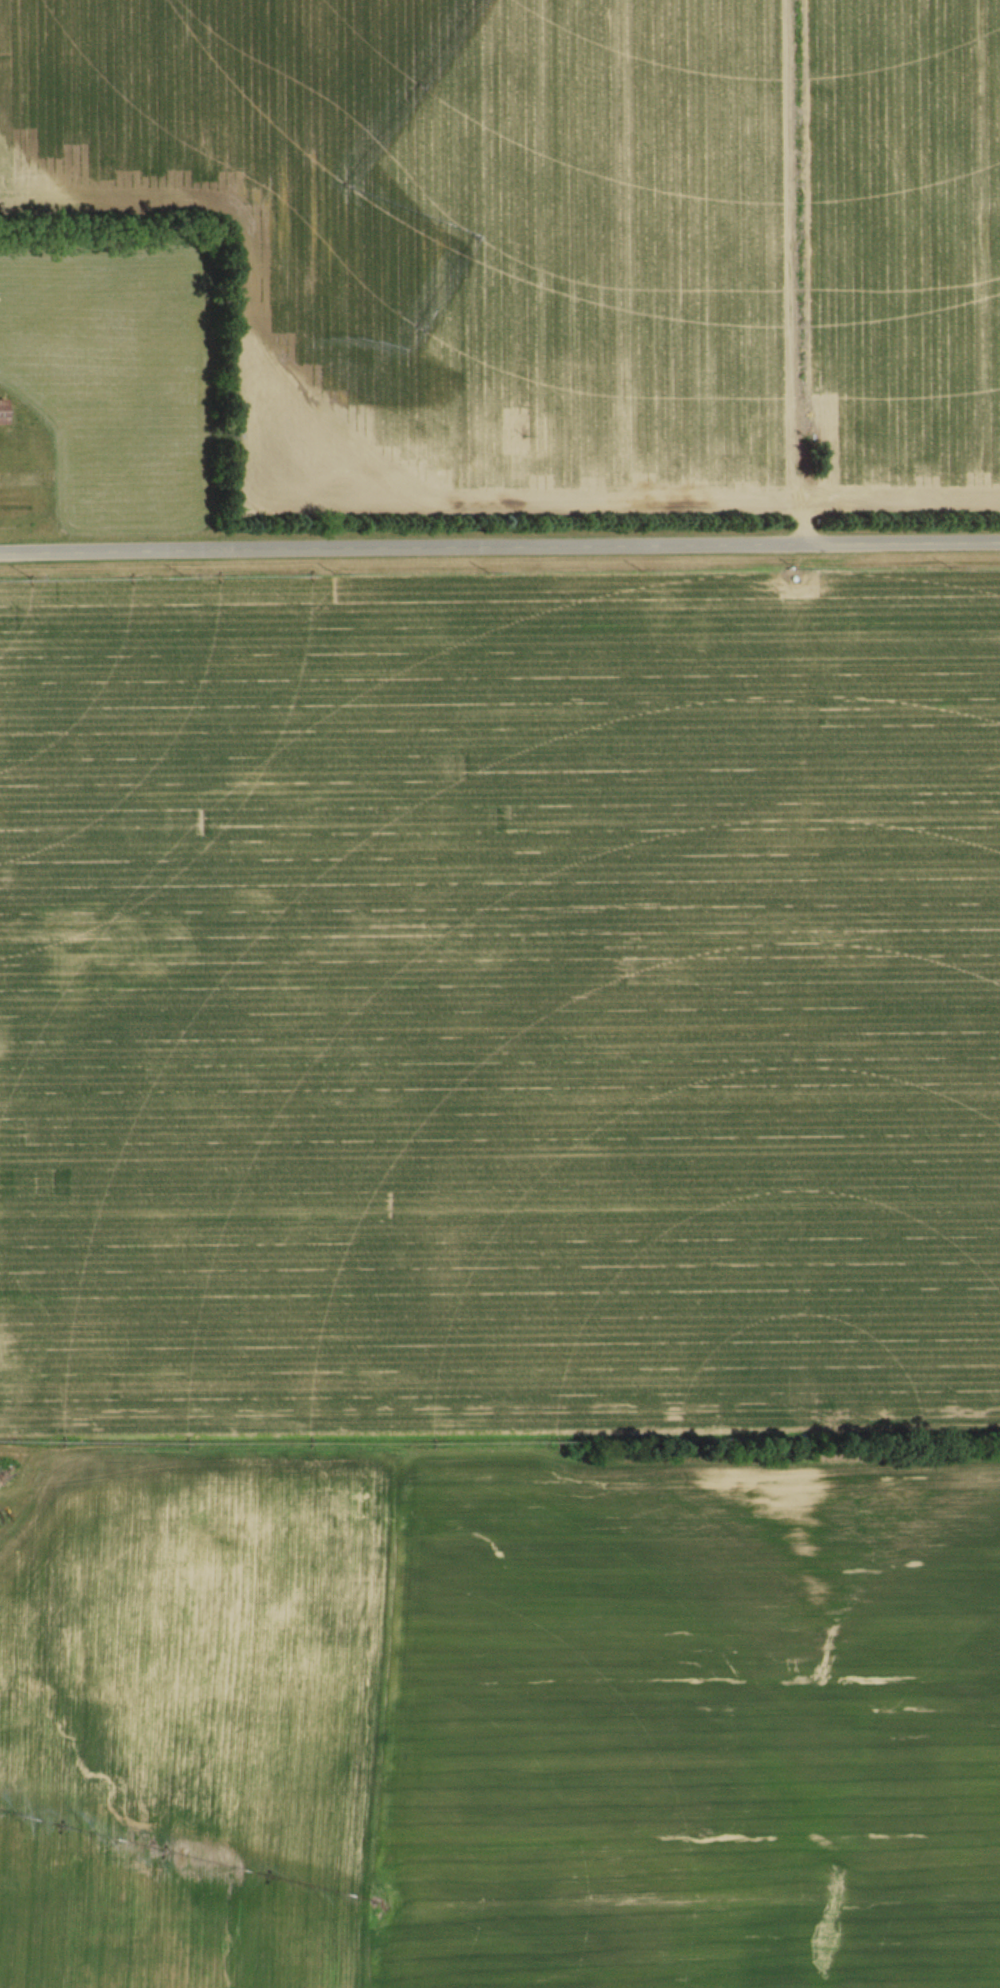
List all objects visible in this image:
crop: (461, 238)
crop: (909, 252)
crop: (117, 368)
building: (3, 412)
road: (500, 555)
crop: (500, 1012)
crop: (502, 1716)

